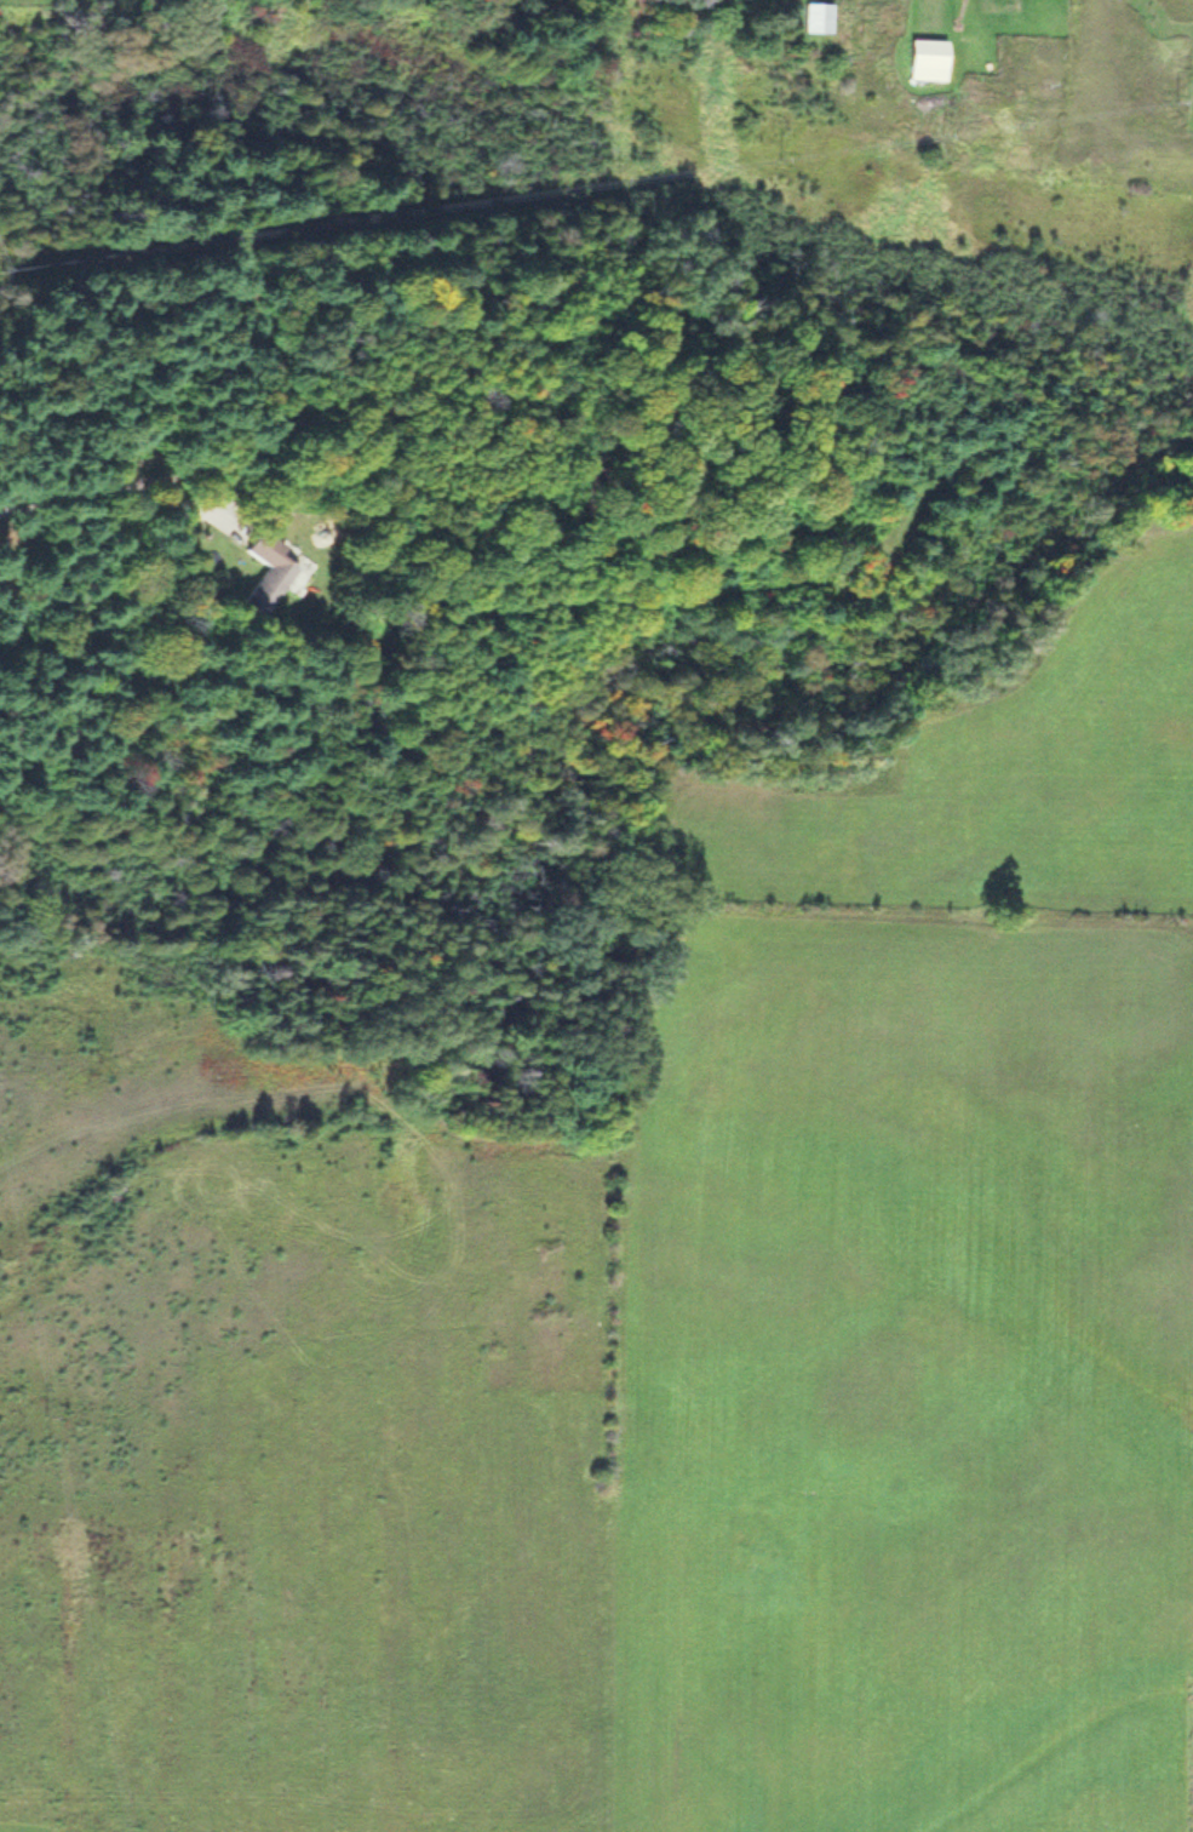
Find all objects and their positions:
building: (811, 15)
building: (922, 57)
road: (87, 487)
building: (262, 568)

